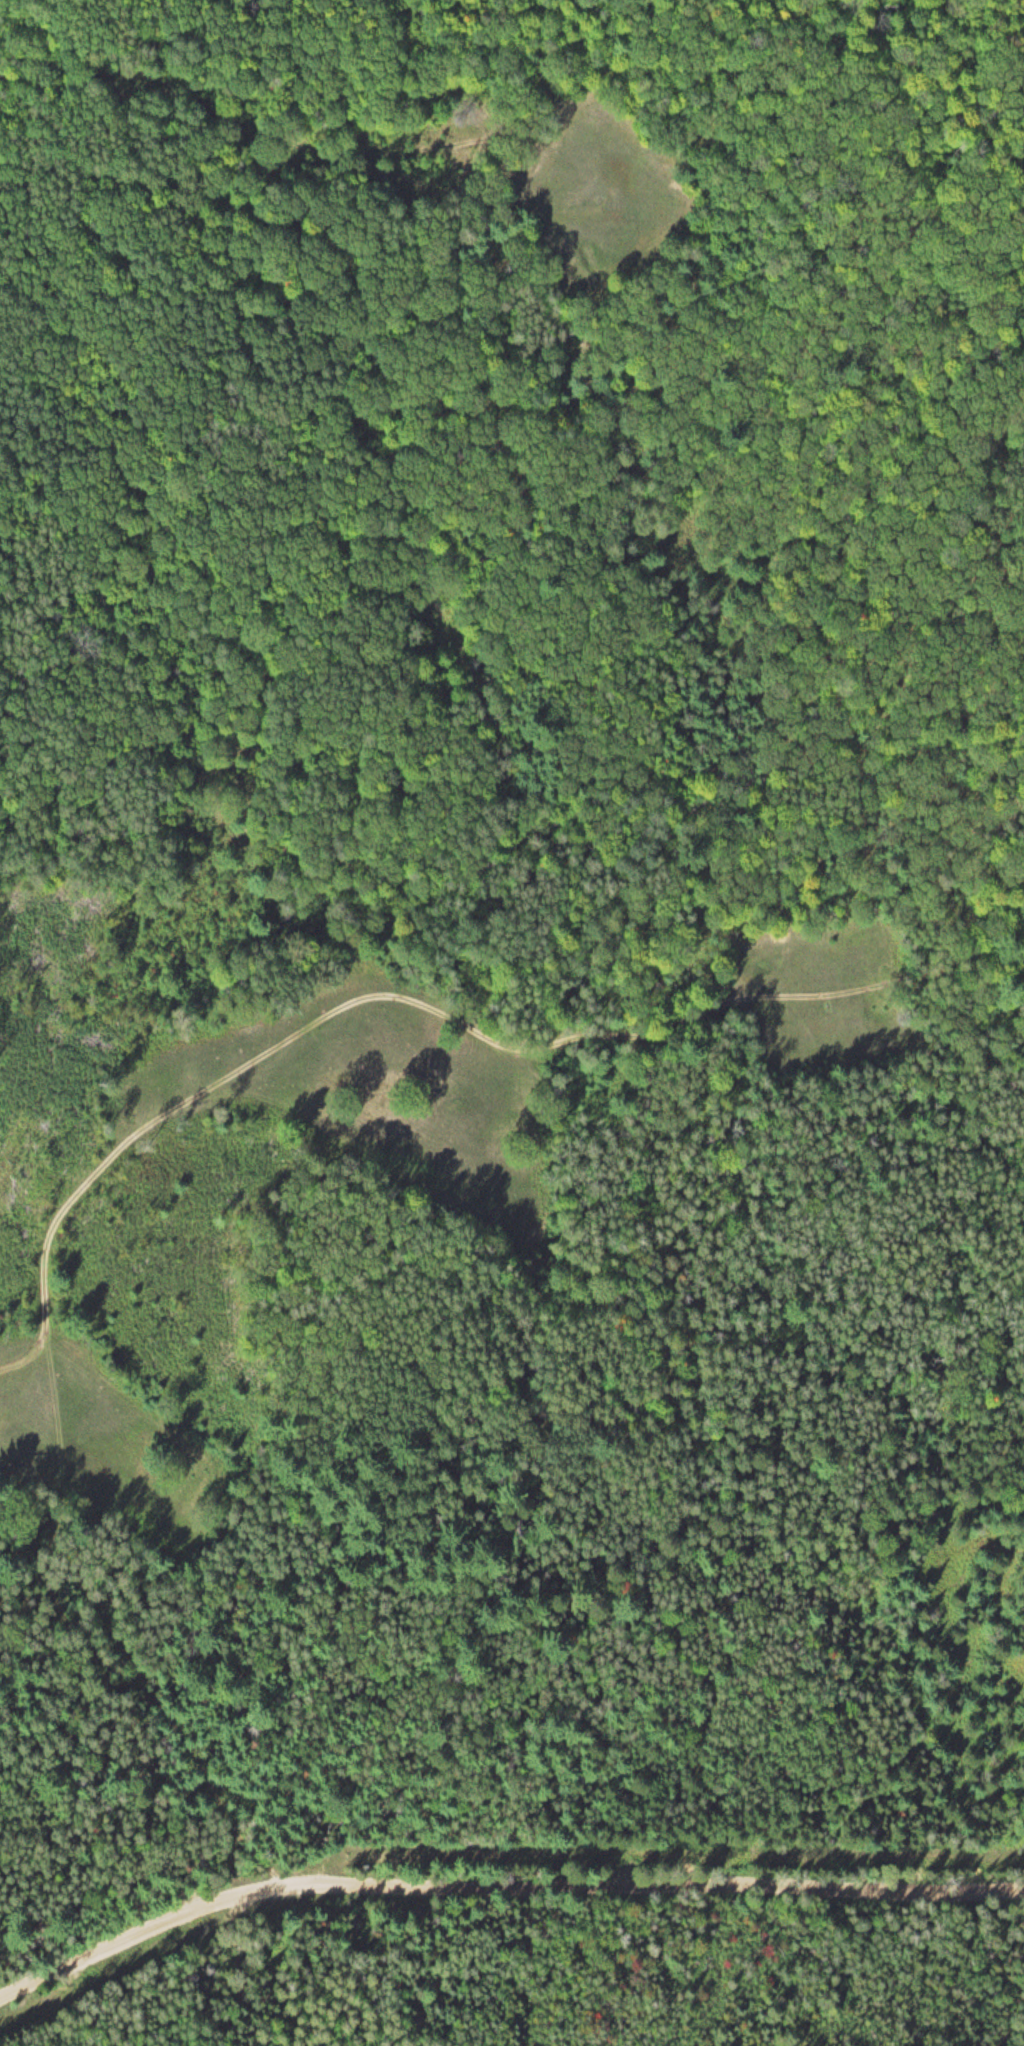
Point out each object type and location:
road: (500, 1887)

